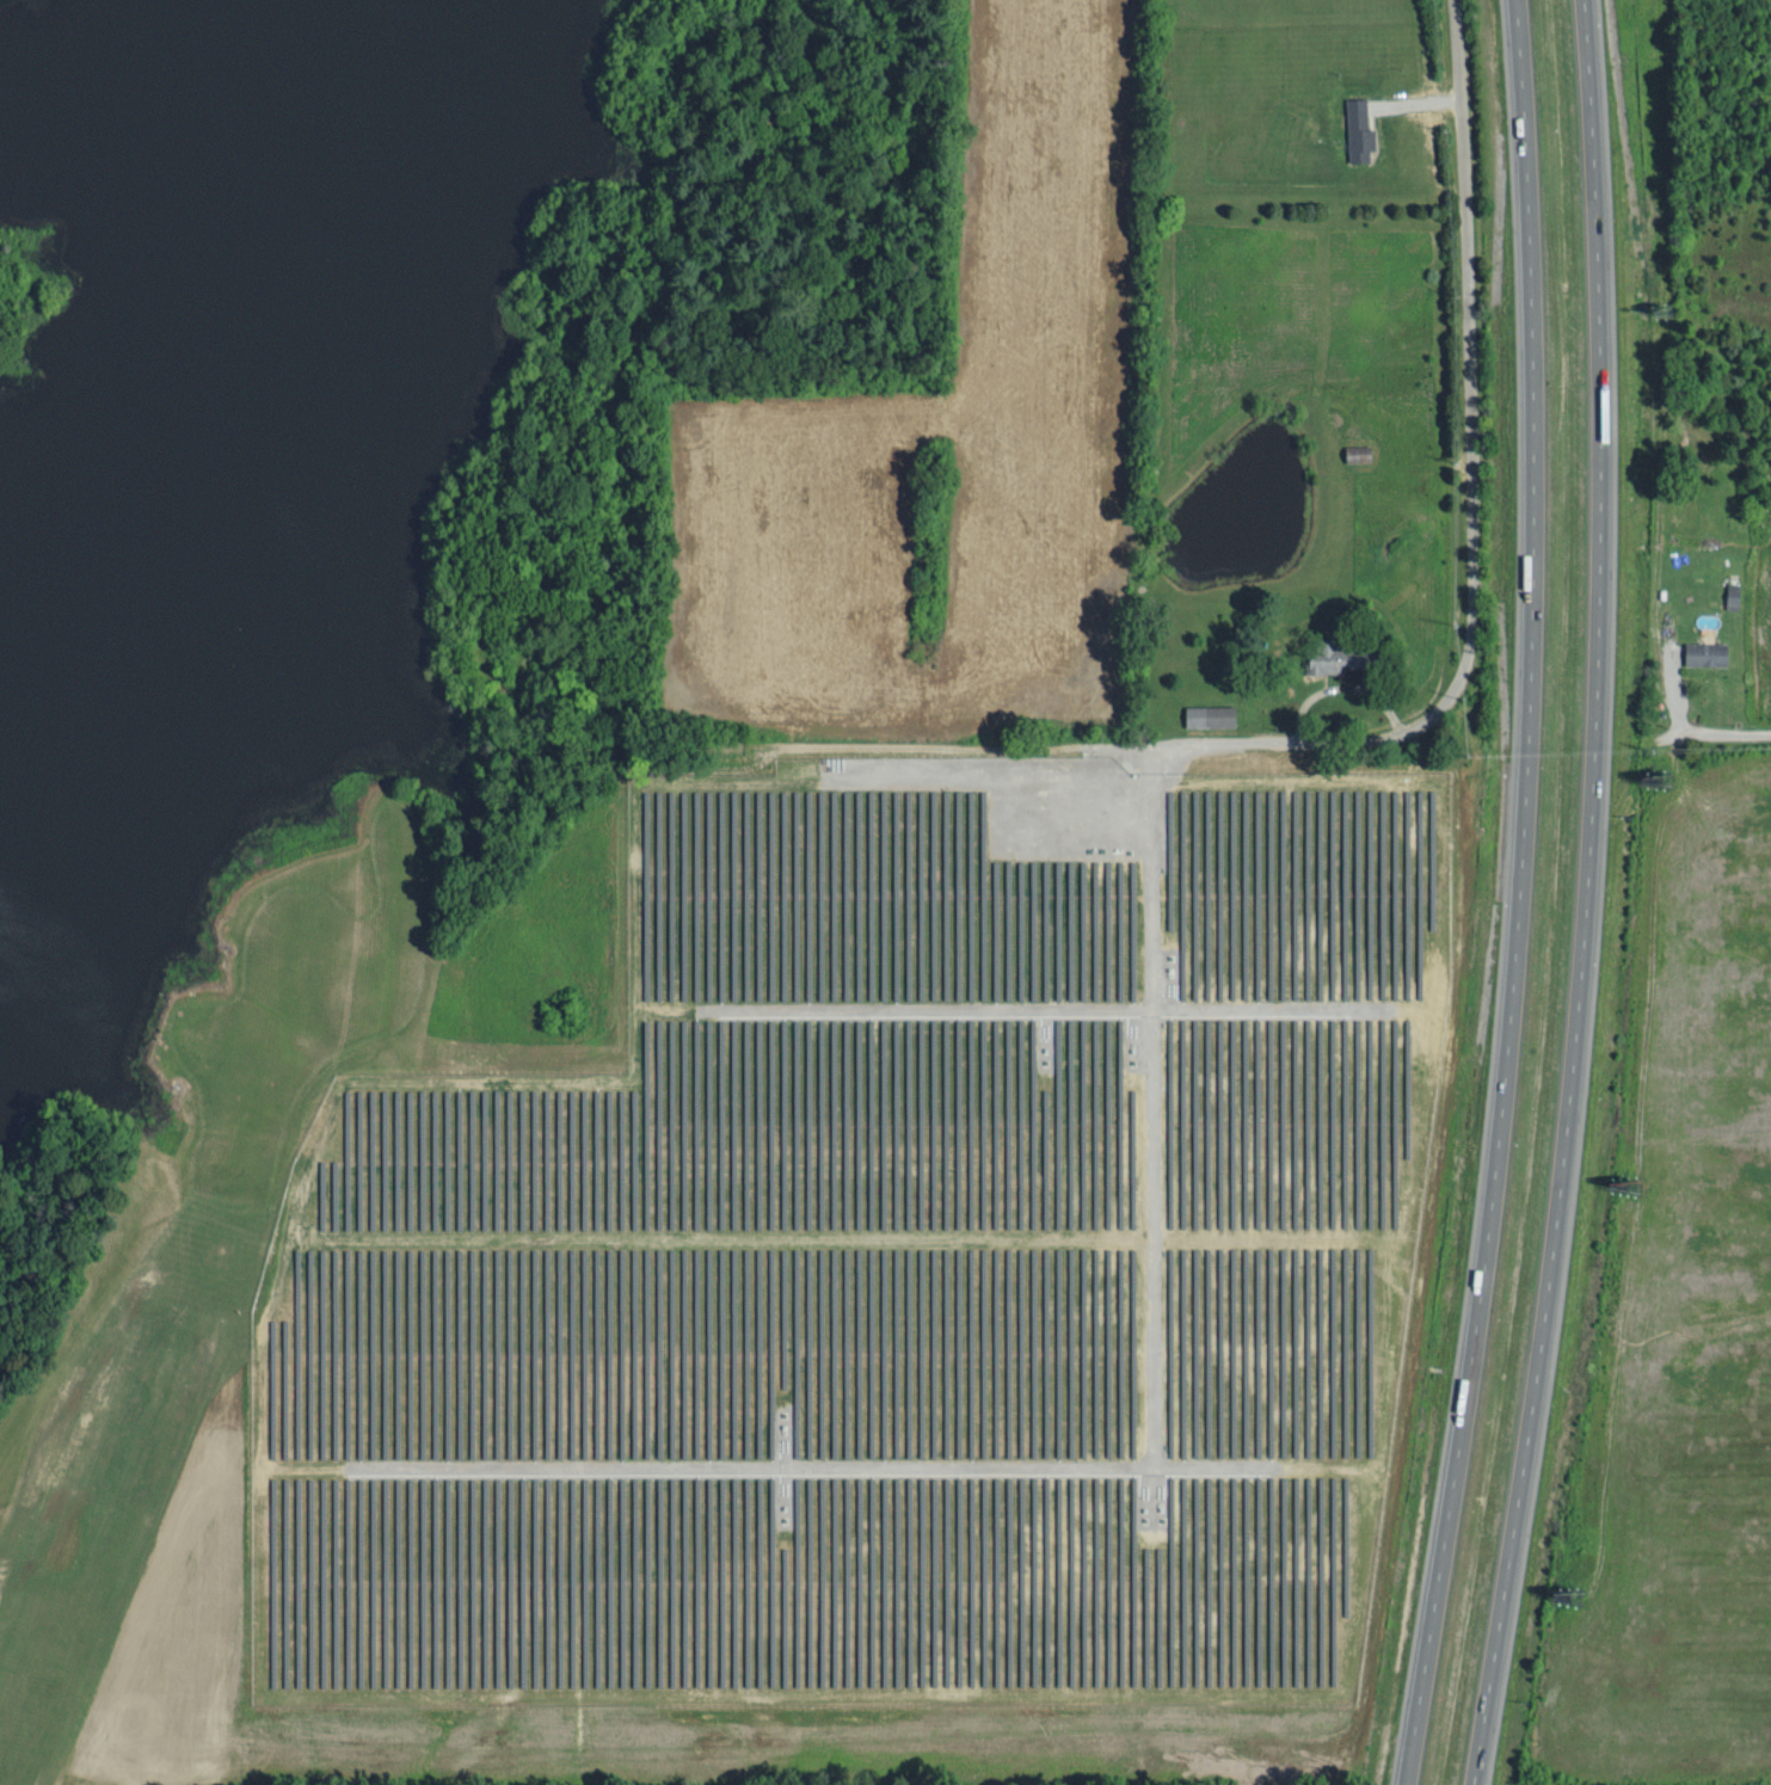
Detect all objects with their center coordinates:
building: (1359, 129)
building: (1707, 652)
building: (1326, 655)
road: (481, 665)
building: (1212, 714)
road: (1730, 732)
road: (1334, 740)
road: (1518, 895)
road: (1582, 895)
solar farm: (886, 1272)
airport runway: (105, 1507)

